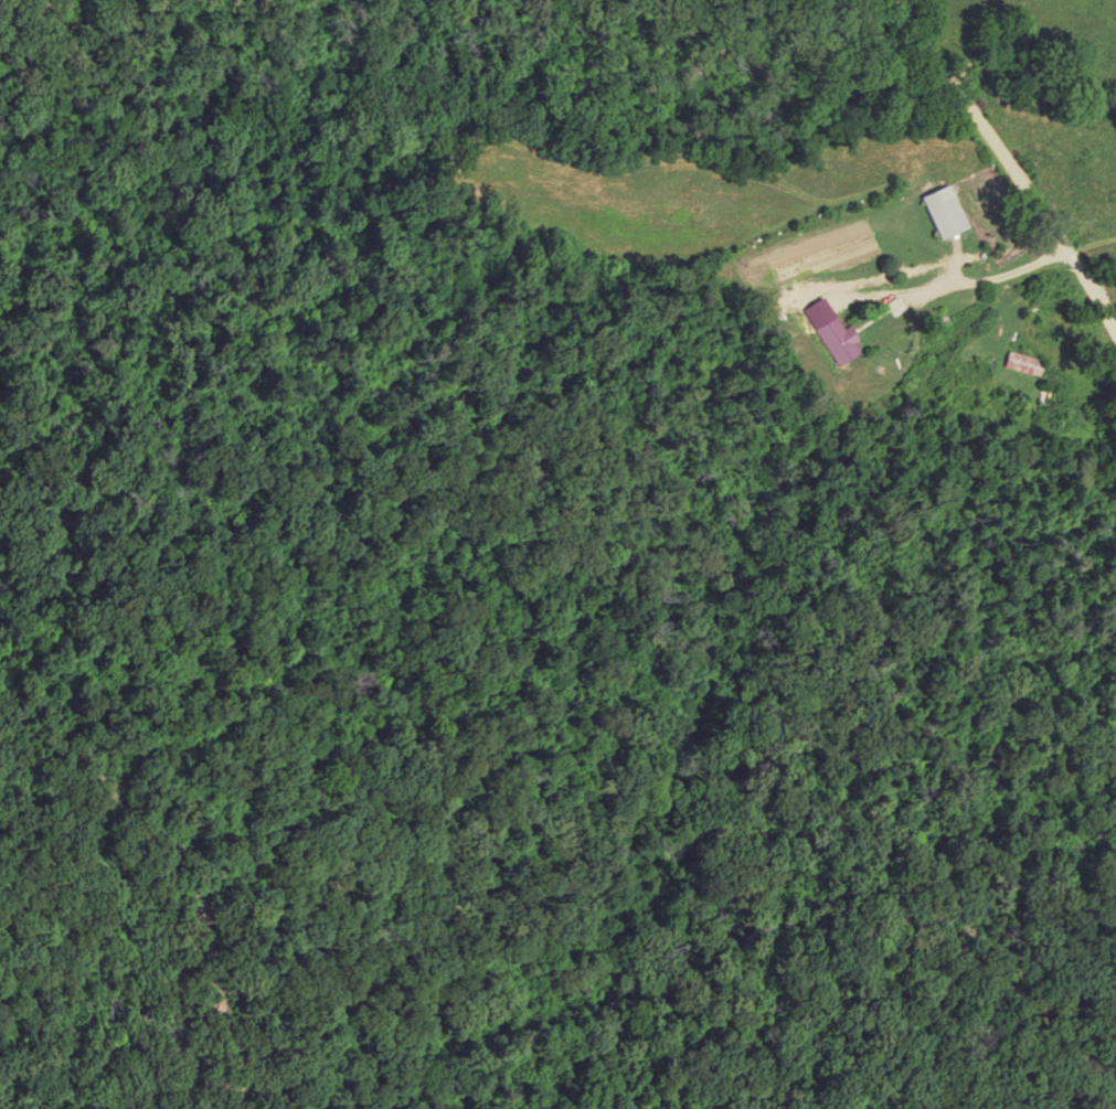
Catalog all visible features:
road: (1018, 167)
building: (938, 210)
building: (836, 338)

